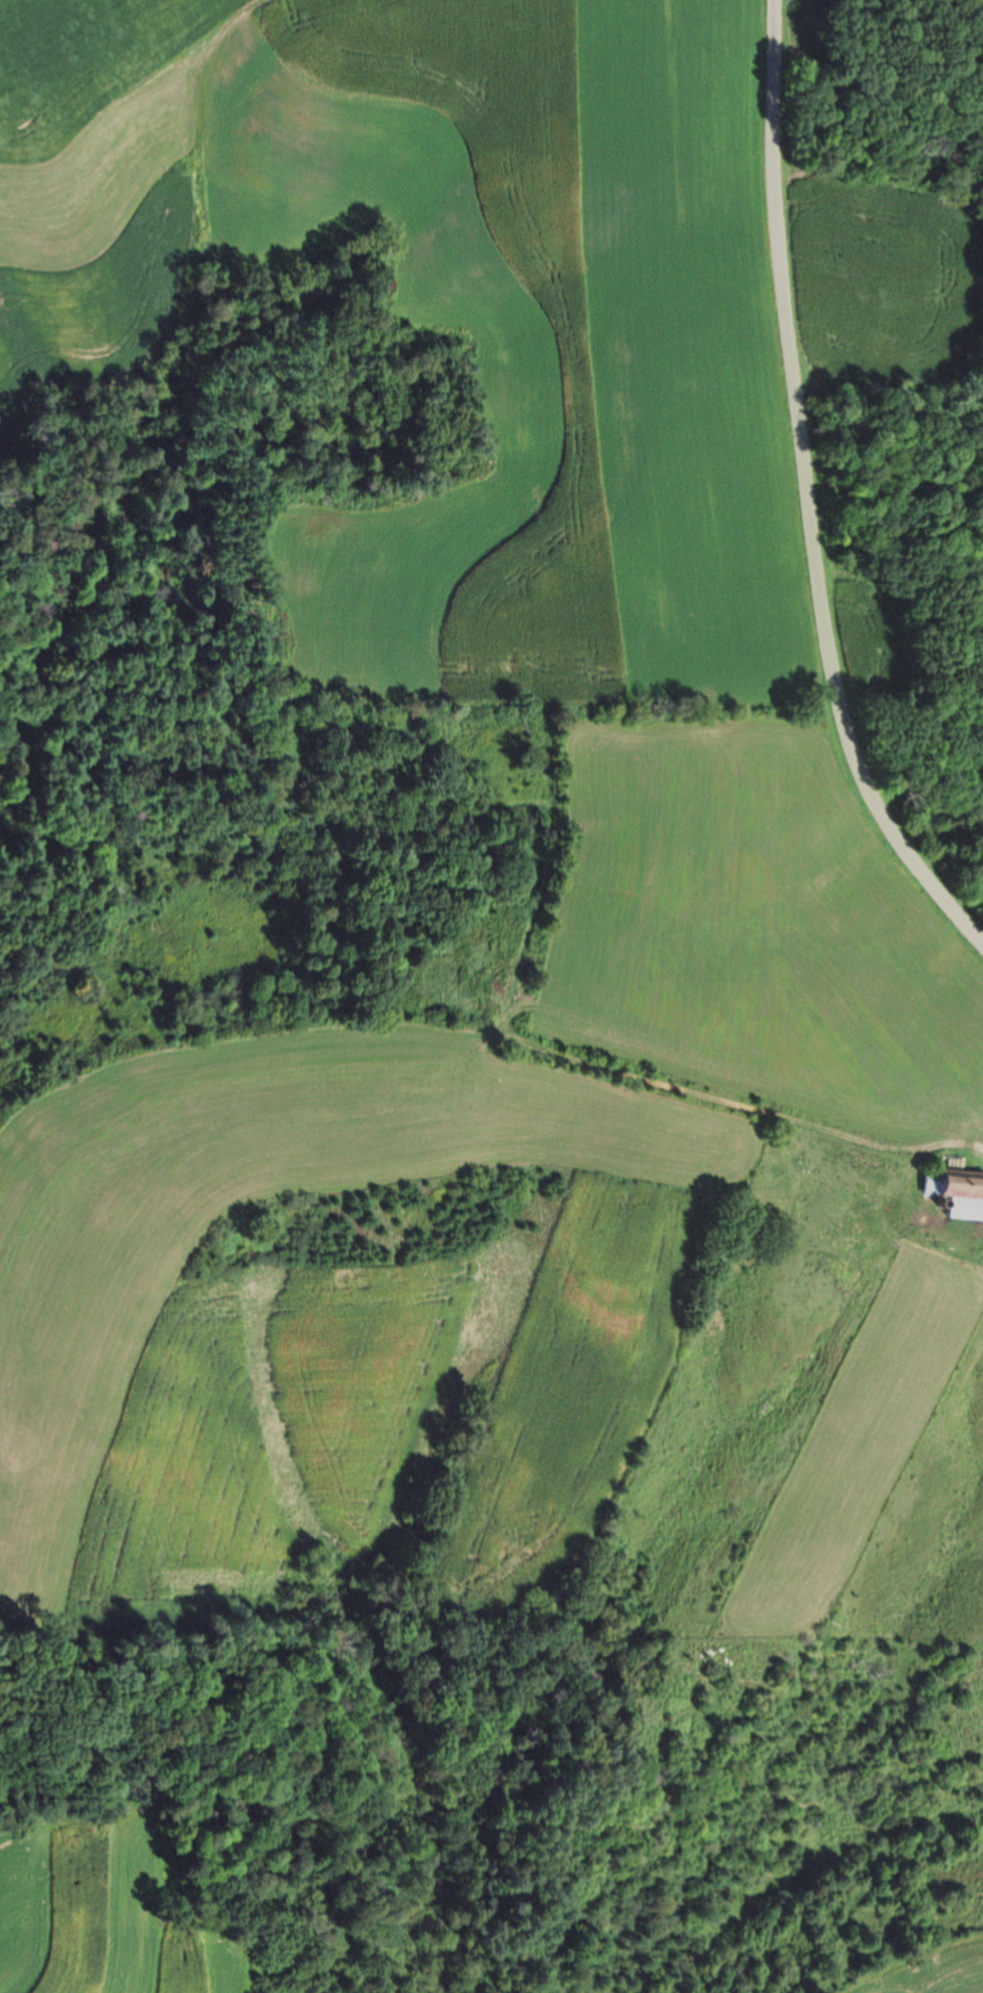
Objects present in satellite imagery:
road: (806, 494)
building: (959, 1192)

